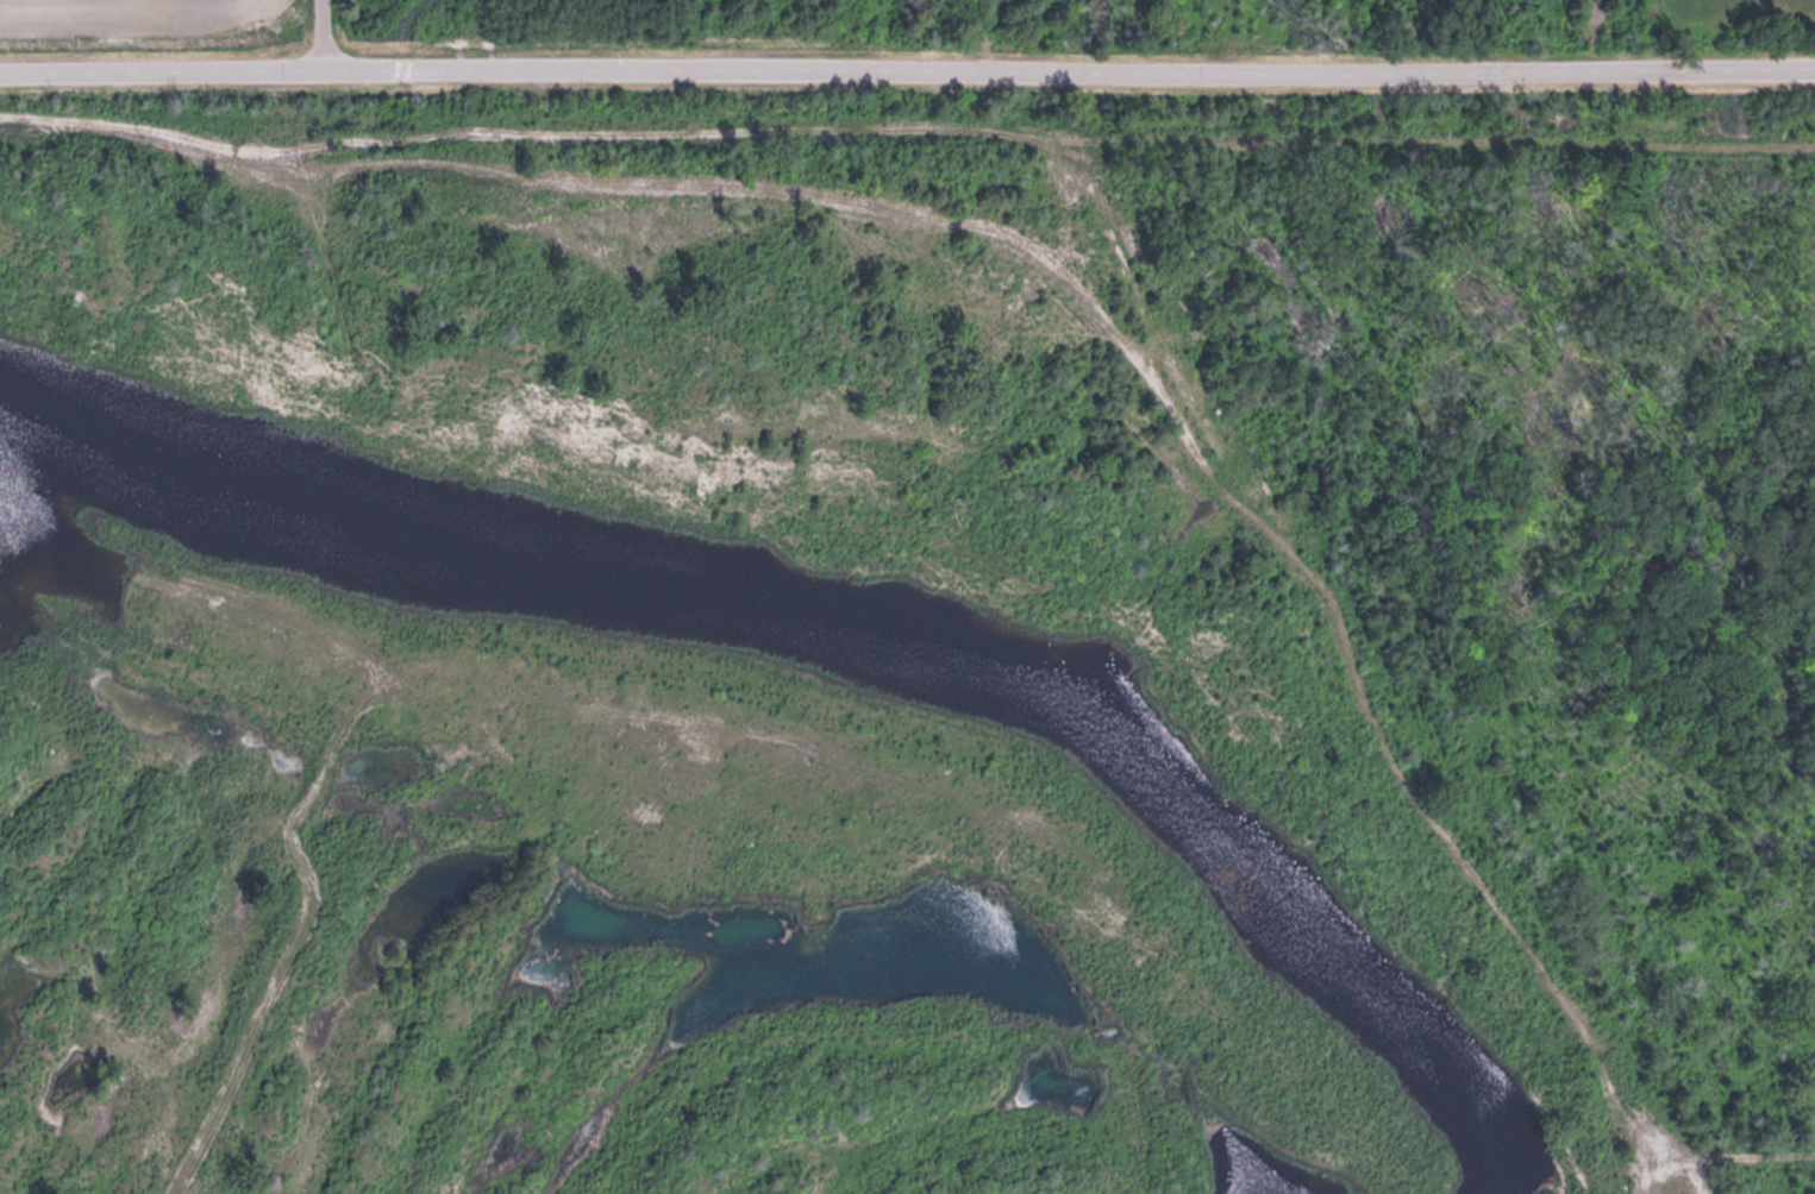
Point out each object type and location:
road: (313, 34)
road: (907, 69)
road: (1077, 312)

